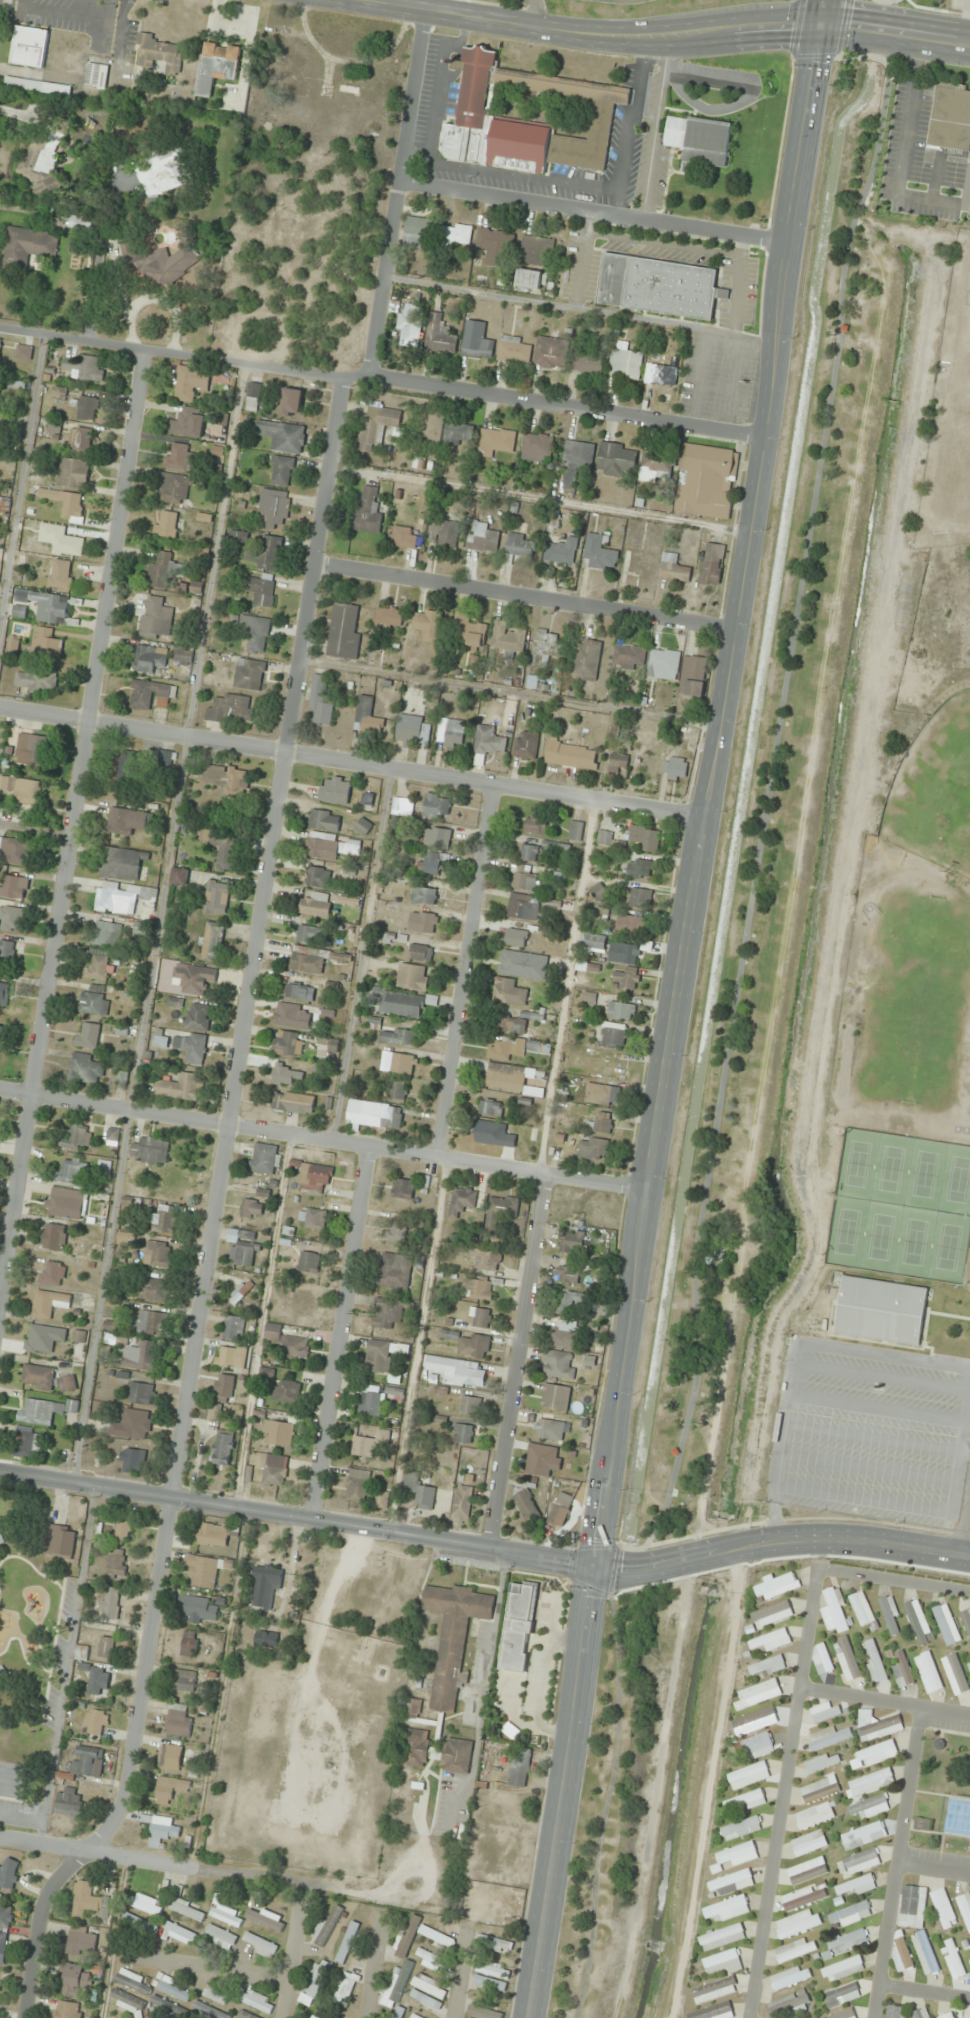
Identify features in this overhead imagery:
road: (886, 1)
road: (398, 4)
road: (533, 14)
traffic signals: (819, 28)
road: (842, 29)
road: (657, 39)
building: (30, 48)
building: (158, 54)
road: (867, 57)
building: (217, 66)
building: (97, 75)
building: (950, 117)
building: (529, 118)
building: (699, 141)
building: (42, 171)
building: (164, 172)
road: (398, 196)
road: (596, 214)
building: (417, 233)
building: (457, 235)
building: (28, 246)
building: (496, 246)
building: (537, 251)
building: (161, 262)
building: (529, 279)
building: (658, 286)
building: (410, 327)
building: (440, 336)
building: (477, 341)
building: (0, 344)
building: (515, 349)
building: (24, 352)
building: (551, 352)
building: (587, 362)
building: (626, 364)
building: (86, 368)
building: (661, 374)
road: (383, 381)
building: (192, 382)
building: (60, 394)
building: (253, 397)
building: (292, 403)
building: (89, 407)
building: (189, 423)
building: (378, 425)
building: (459, 432)
building: (283, 436)
building: (81, 440)
building: (498, 441)
building: (537, 447)
building: (179, 457)
building: (575, 459)
building: (617, 459)
building: (657, 467)
building: (282, 471)
building: (74, 473)
road: (21, 475)
building: (706, 481)
building: (174, 488)
building: (67, 503)
building: (274, 508)
building: (368, 511)
building: (554, 518)
building: (167, 524)
building: (445, 533)
building: (405, 537)
building: (483, 538)
building: (62, 542)
building: (521, 545)
building: (270, 553)
building: (600, 553)
building: (711, 564)
building: (675, 568)
building: (164, 570)
building: (61, 574)
building: (262, 591)
road: (526, 594)
building: (52, 607)
building: (390, 617)
building: (156, 619)
building: (428, 624)
building: (468, 630)
building: (344, 631)
building: (256, 633)
building: (507, 640)
building: (46, 642)
building: (547, 649)
building: (182, 656)
building: (630, 657)
building: (150, 659)
building: (587, 660)
building: (665, 661)
building: (250, 674)
building: (36, 681)
building: (692, 681)
building: (150, 695)
building: (321, 702)
building: (230, 708)
building: (368, 716)
building: (414, 729)
building: (452, 733)
building: (490, 741)
building: (527, 745)
building: (32, 750)
building: (573, 755)
building: (167, 759)
building: (619, 762)
road: (353, 764)
building: (675, 768)
building: (127, 769)
building: (226, 778)
road: (711, 784)
building: (22, 790)
building: (335, 791)
park: (934, 791)
building: (369, 798)
road: (765, 803)
building: (404, 804)
building: (437, 806)
building: (325, 820)
building: (126, 821)
road: (73, 823)
building: (536, 825)
building: (577, 831)
road: (35, 833)
building: (439, 838)
building: (646, 838)
building: (607, 839)
building: (324, 846)
building: (223, 849)
building: (14, 850)
building: (530, 853)
building: (121, 863)
building: (433, 863)
building: (640, 869)
building: (180, 877)
building: (319, 878)
building: (525, 880)
building: (14, 887)
building: (599, 892)
building: (425, 896)
building: (217, 898)
building: (641, 898)
building: (126, 899)
building: (350, 901)
building: (316, 904)
building: (521, 906)
building: (11, 919)
building: (424, 922)
road: (157, 924)
building: (632, 924)
building: (107, 933)
building: (311, 935)
building: (517, 938)
building: (213, 941)
building: (595, 944)
building: (7, 953)
building: (422, 953)
building: (624, 954)
building: (315, 960)
building: (524, 965)
building: (100, 968)
road: (469, 971)
building: (413, 976)
building: (195, 978)
building: (627, 979)
building: (509, 992)
building: (4, 993)
building: (301, 993)
building: (94, 1001)
park: (918, 1002)
building: (404, 1005)
building: (622, 1011)
building: (292, 1016)
building: (199, 1018)
building: (509, 1024)
building: (1, 1031)
building: (88, 1035)
building: (398, 1036)
building: (613, 1036)
building: (288, 1044)
building: (191, 1048)
building: (512, 1048)
building: (399, 1063)
building: (85, 1069)
building: (286, 1074)
building: (511, 1079)
building: (178, 1087)
building: (398, 1090)
building: (563, 1093)
building: (602, 1095)
building: (293, 1103)
building: (491, 1108)
building: (375, 1115)
building: (601, 1124)
building: (488, 1133)
building: (113, 1137)
building: (75, 1138)
road: (325, 1140)
building: (594, 1149)
building: (150, 1151)
building: (263, 1159)
building: (104, 1171)
building: (72, 1172)
building: (313, 1177)
building: (403, 1189)
building: (462, 1202)
building: (66, 1204)
park: (900, 1207)
building: (251, 1209)
building: (501, 1210)
road: (214, 1213)
building: (312, 1218)
building: (163, 1222)
building: (396, 1232)
building: (54, 1236)
building: (496, 1241)
building: (572, 1243)
building: (245, 1253)
building: (158, 1254)
building: (486, 1260)
building: (308, 1262)
building: (395, 1271)
building: (968, 1271)
building: (52, 1274)
building: (568, 1274)
building: (239, 1288)
building: (479, 1288)
building: (154, 1291)
building: (49, 1304)
building: (569, 1304)
building: (881, 1310)
building: (479, 1318)
building: (148, 1322)
building: (233, 1328)
road: (342, 1334)
building: (566, 1334)
building: (37, 1338)
building: (286, 1342)
road: (810, 1344)
building: (473, 1346)
building: (141, 1356)
building: (377, 1356)
building: (233, 1358)
road: (522, 1364)
building: (558, 1365)
building: (463, 1374)
road: (878, 1378)
building: (47, 1380)
building: (223, 1388)
building: (285, 1391)
building: (140, 1394)
building: (556, 1397)
building: (370, 1400)
building: (470, 1406)
road: (874, 1408)
building: (42, 1411)
building: (211, 1412)
building: (131, 1425)
building: (549, 1430)
parking lot: (869, 1431)
building: (279, 1432)
building: (463, 1434)
road: (870, 1438)
building: (27, 1443)
building: (363, 1447)
building: (222, 1449)
building: (134, 1460)
building: (542, 1461)
building: (275, 1470)
road: (865, 1470)
building: (358, 1486)
building: (381, 1499)
building: (426, 1499)
building: (462, 1502)
building: (526, 1506)
road: (925, 1510)
building: (559, 1514)
road: (297, 1518)
road: (965, 1522)
building: (122, 1531)
building: (216, 1535)
building: (61, 1541)
road: (781, 1541)
road: (640, 1548)
building: (116, 1565)
traffic signals: (594, 1568)
building: (202, 1571)
road: (613, 1571)
road: (895, 1581)
building: (265, 1585)
building: (776, 1586)
building: (109, 1605)
building: (200, 1607)
building: (863, 1611)
building: (835, 1612)
building: (772, 1614)
building: (891, 1616)
building: (966, 1621)
building: (918, 1622)
building: (946, 1624)
building: (519, 1625)
building: (453, 1636)
building: (266, 1639)
building: (771, 1641)
building: (189, 1644)
building: (106, 1648)
park: (31, 1657)
building: (821, 1659)
building: (848, 1659)
building: (876, 1664)
building: (766, 1667)
building: (968, 1667)
building: (902, 1670)
building: (928, 1673)
building: (955, 1674)
building: (184, 1681)
building: (758, 1694)
road: (886, 1702)
building: (413, 1709)
building: (825, 1712)
building: (178, 1721)
building: (756, 1722)
building: (95, 1723)
building: (877, 1725)
building: (827, 1738)
building: (758, 1746)
building: (414, 1748)
building: (876, 1754)
building: (456, 1756)
building: (171, 1757)
building: (86, 1762)
building: (821, 1763)
building: (519, 1767)
building: (749, 1776)
building: (869, 1783)
building: (168, 1790)
building: (819, 1790)
road: (561, 1793)
road: (785, 1794)
building: (744, 1801)
building: (68, 1803)
building: (870, 1807)
road: (603, 1808)
building: (815, 1815)
building: (923, 1824)
building: (740, 1828)
building: (160, 1830)
building: (863, 1836)
building: (808, 1843)
road: (101, 1854)
building: (736, 1855)
building: (859, 1863)
road: (900, 1863)
road: (935, 1867)
building: (807, 1871)
building: (8, 1874)
building: (732, 1883)
building: (855, 1886)
building: (803, 1897)
building: (88, 1900)
building: (146, 1904)
building: (913, 1907)
building: (943, 1908)
building: (727, 1909)
building: (187, 1910)
building: (965, 1910)
building: (850, 1914)
building: (5, 1915)
building: (226, 1915)
building: (265, 1917)
building: (139, 1923)
building: (798, 1924)
building: (328, 1925)
building: (408, 1932)
building: (178, 1934)
building: (220, 1937)
building: (437, 1937)
building: (721, 1937)
building: (82, 1939)
building: (848, 1942)
building: (347, 1943)
building: (495, 1944)
building: (260, 1946)
building: (3, 1948)
building: (795, 1950)
building: (925, 1953)
building: (901, 1954)
building: (953, 1959)
road: (293, 1960)
building: (435, 1962)
building: (969, 1962)
building: (722, 1963)
road: (208, 1969)
building: (493, 1969)
building: (842, 1969)
road: (375, 1970)
road: (460, 1976)
building: (790, 1978)
building: (0, 1979)
building: (75, 1980)
building: (131, 1981)
building: (313, 1983)
building: (489, 1983)
building: (429, 1987)
building: (173, 1989)
building: (396, 1990)
building: (715, 1990)
road: (924, 1992)
building: (217, 1995)
building: (841, 1995)
building: (425, 2000)
building: (127, 2001)
building: (257, 2001)
building: (788, 2003)
building: (68, 2010)
building: (208, 2010)
building: (484, 2012)
building: (714, 2012)
building: (894, 2012)
building: (921, 2013)
building: (844, 2014)
building: (245, 2015)
building: (309, 2016)
building: (415, 2016)
building: (947, 2016)

